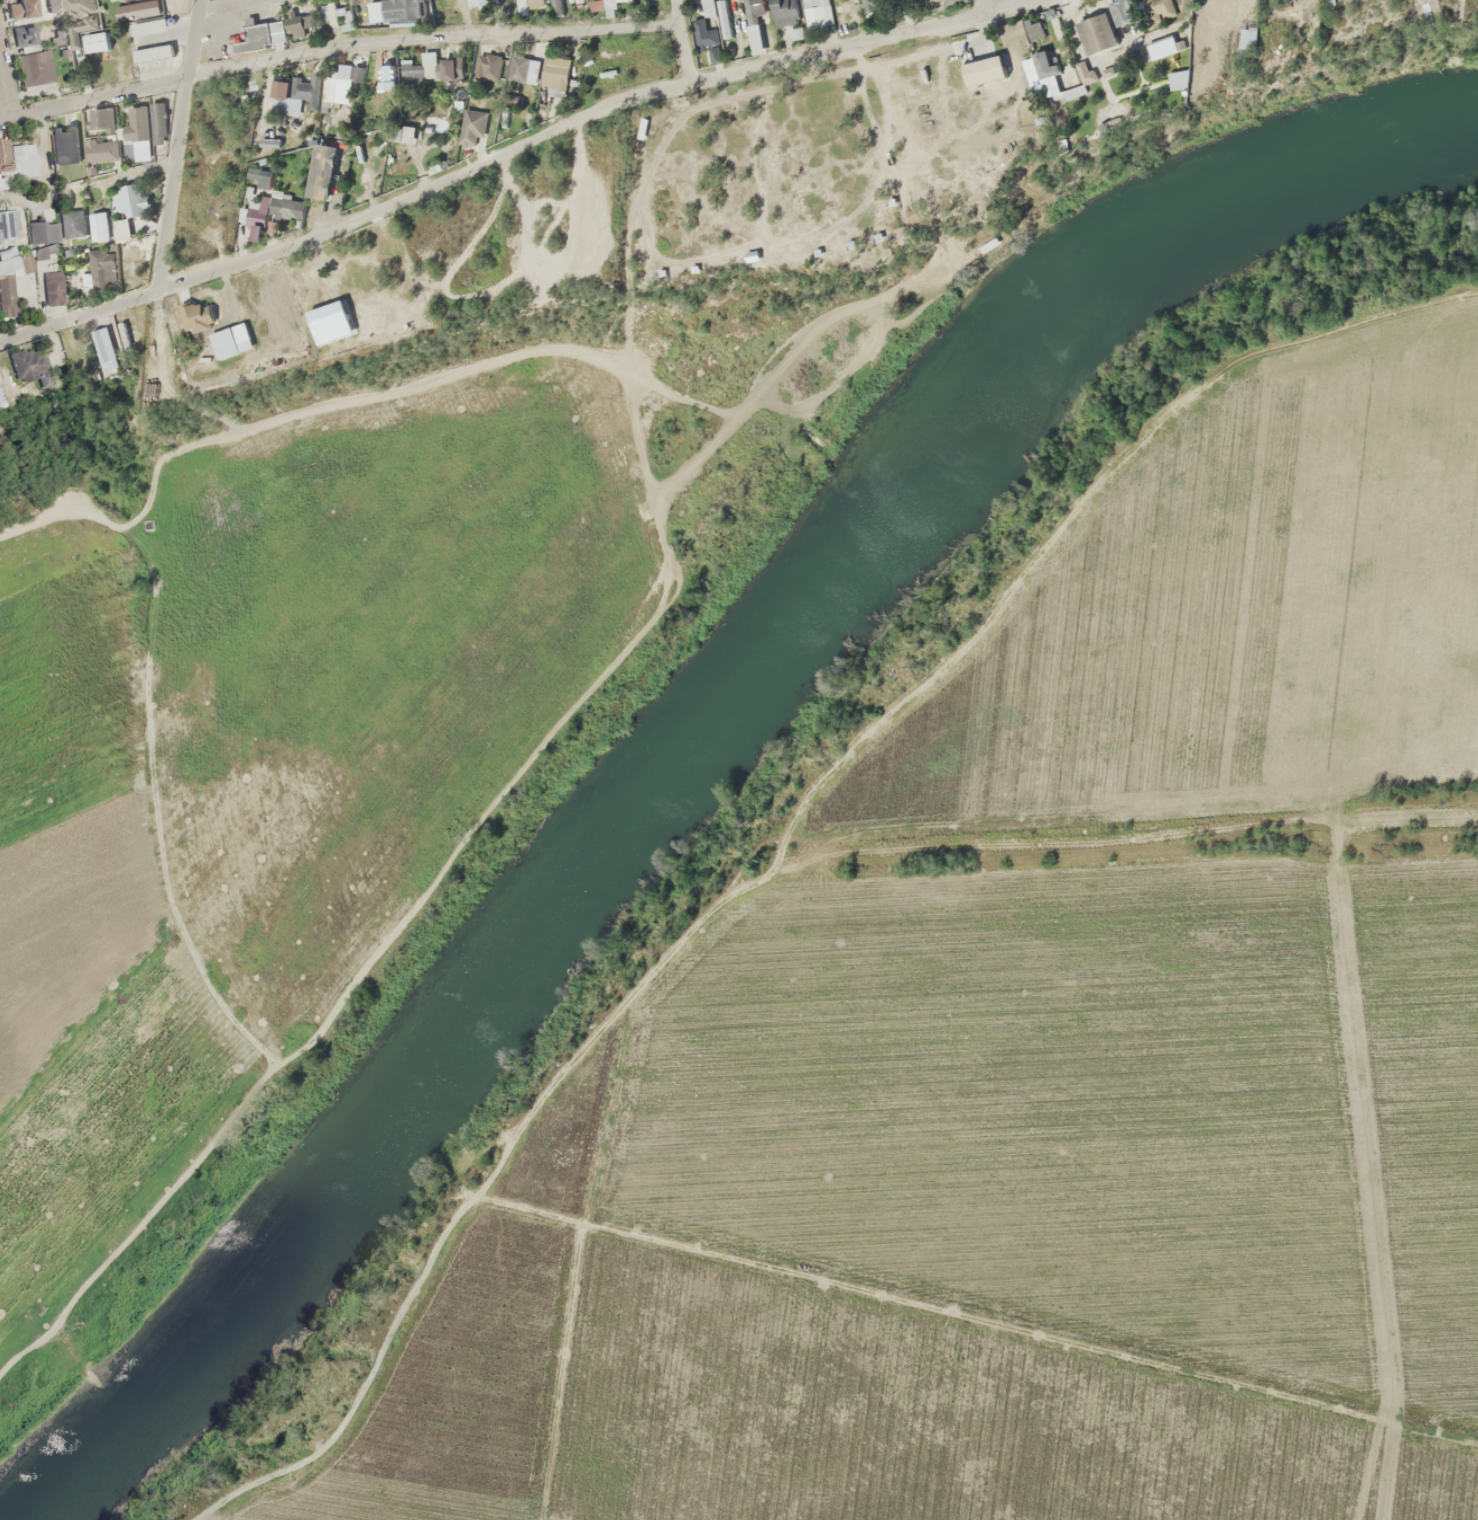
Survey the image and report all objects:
building: (477, 2)
building: (871, 5)
road: (227, 6)
building: (558, 7)
road: (983, 7)
road: (1006, 7)
building: (709, 8)
building: (22, 9)
building: (405, 10)
building: (375, 11)
building: (818, 12)
building: (786, 14)
building: (334, 17)
building: (725, 18)
building: (756, 24)
building: (1096, 33)
building: (24, 36)
building: (257, 37)
road: (683, 40)
building: (710, 43)
road: (336, 46)
building: (152, 53)
building: (489, 66)
building: (34, 68)
building: (451, 69)
building: (520, 69)
building: (418, 70)
building: (555, 75)
building: (341, 83)
road: (5, 85)
building: (285, 97)
building: (158, 123)
building: (474, 124)
building: (135, 125)
building: (404, 134)
building: (102, 136)
building: (66, 145)
road: (177, 146)
building: (17, 158)
road: (486, 159)
building: (322, 172)
building: (132, 200)
building: (287, 207)
building: (255, 216)
building: (75, 223)
building: (8, 225)
building: (123, 227)
building: (98, 229)
building: (42, 232)
building: (43, 252)
building: (130, 261)
building: (102, 268)
building: (7, 280)
building: (52, 288)
building: (231, 340)
building: (104, 349)
building: (29, 365)
road: (290, 414)
river: (763, 645)
river: (111, 1435)

